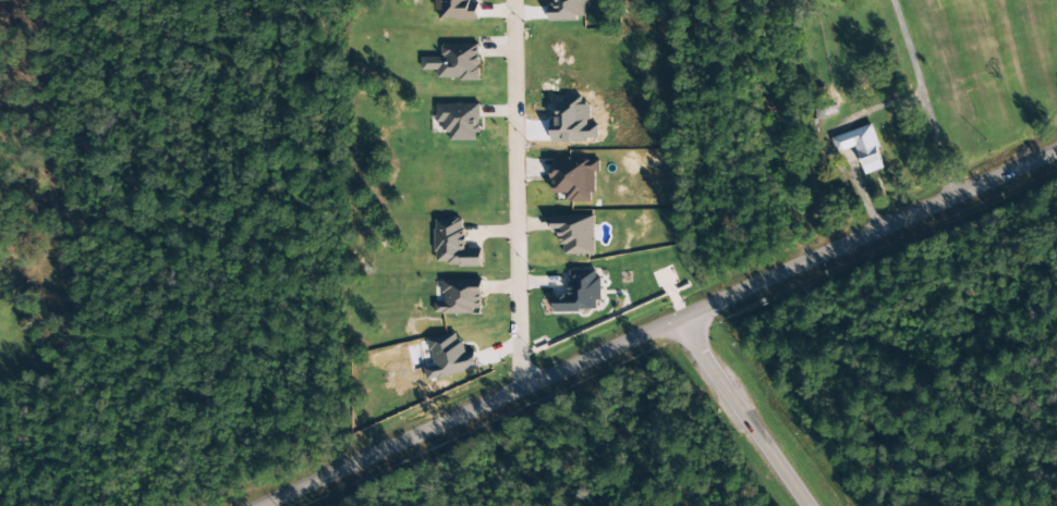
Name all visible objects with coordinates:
building: (455, 10)
building: (568, 10)
building: (454, 62)
building: (772, 107)
building: (460, 121)
building: (861, 147)
building: (574, 180)
road: (519, 192)
building: (574, 233)
building: (453, 244)
building: (579, 293)
building: (460, 297)
road: (652, 325)
building: (450, 357)
road: (740, 410)

